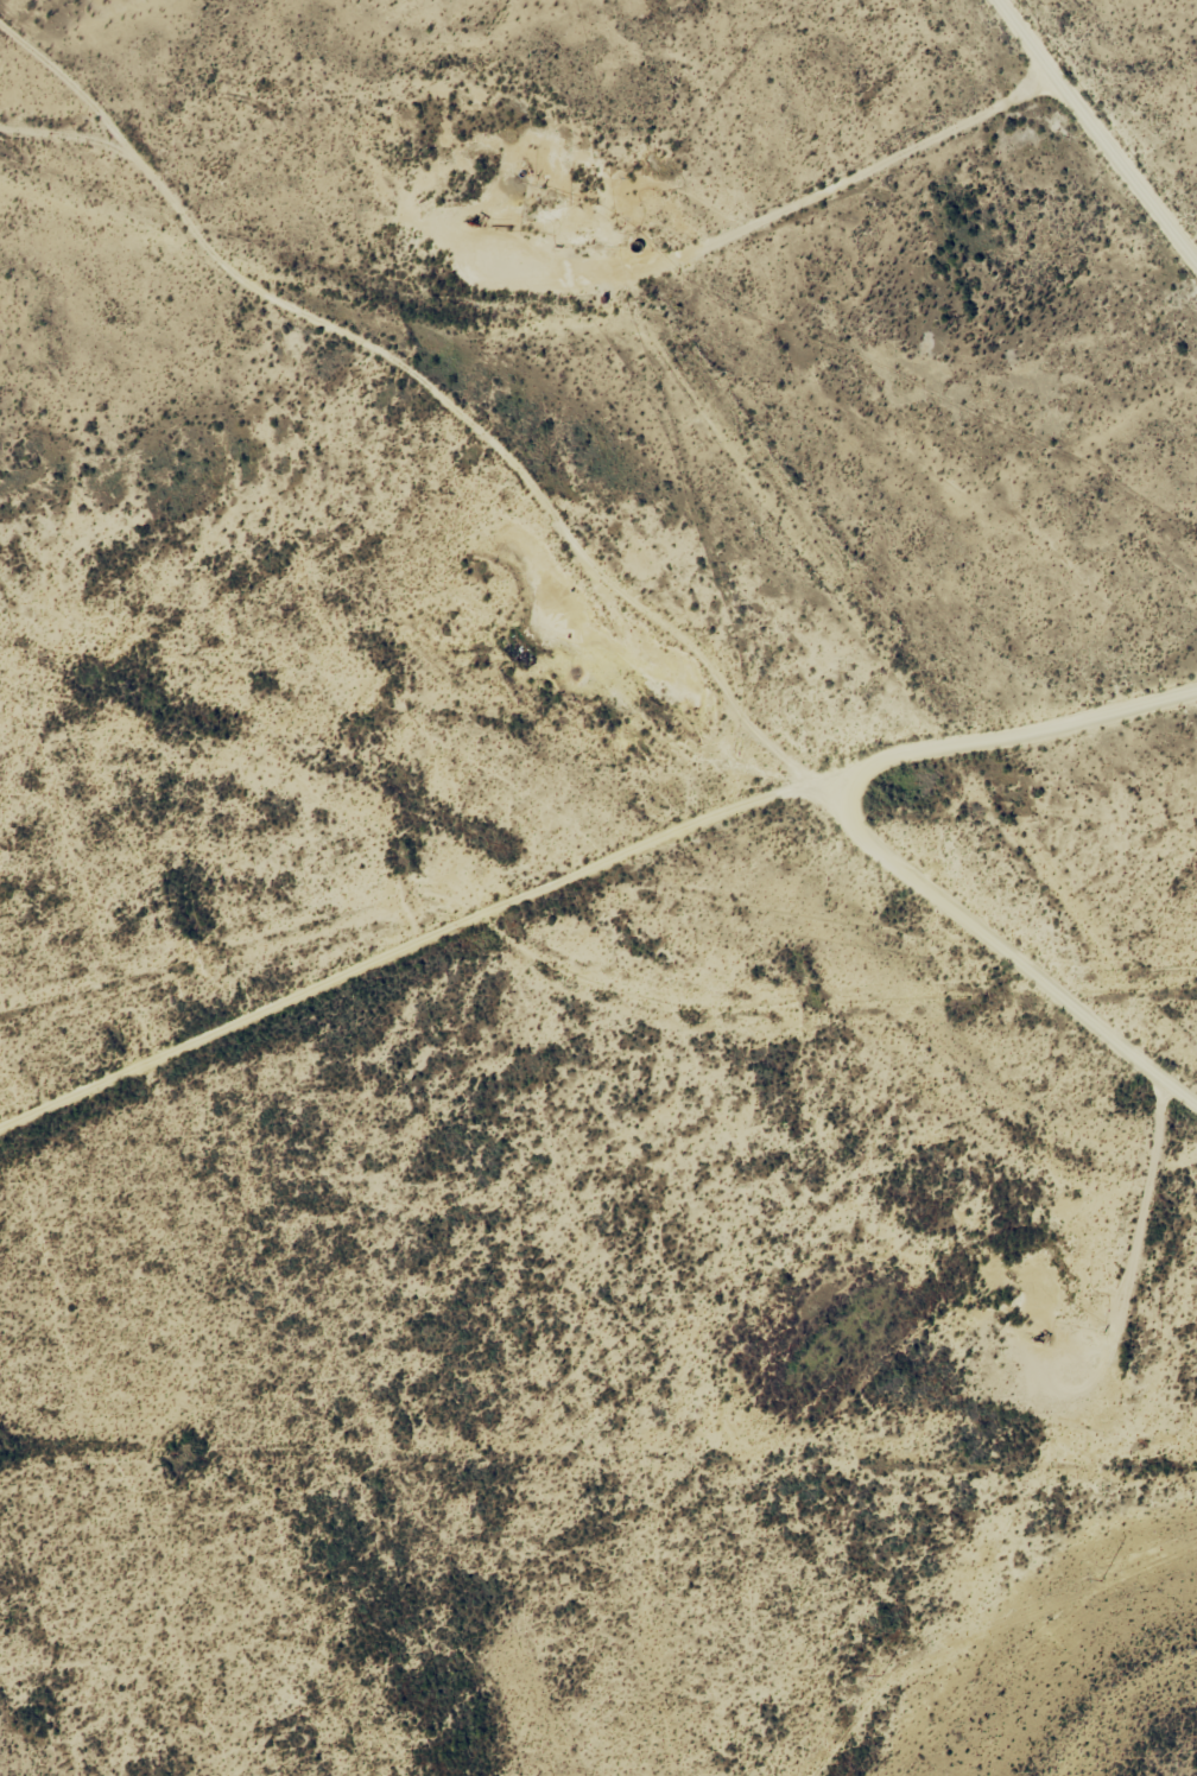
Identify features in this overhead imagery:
road: (1092, 137)
road: (568, 520)
road: (631, 867)
power tower: (1100, 1582)
power tower: (880, 1676)

